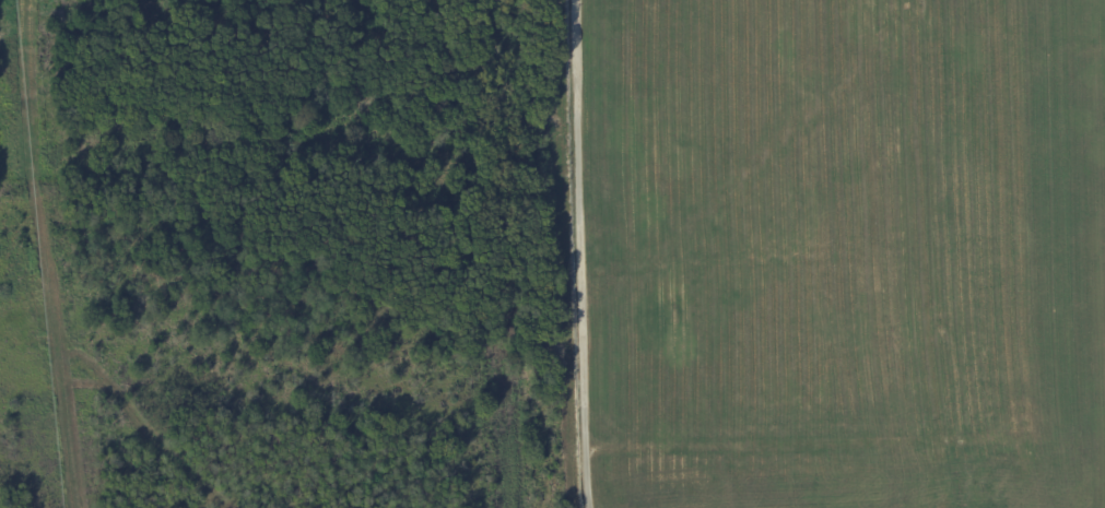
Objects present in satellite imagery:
airport: (837, 252)

